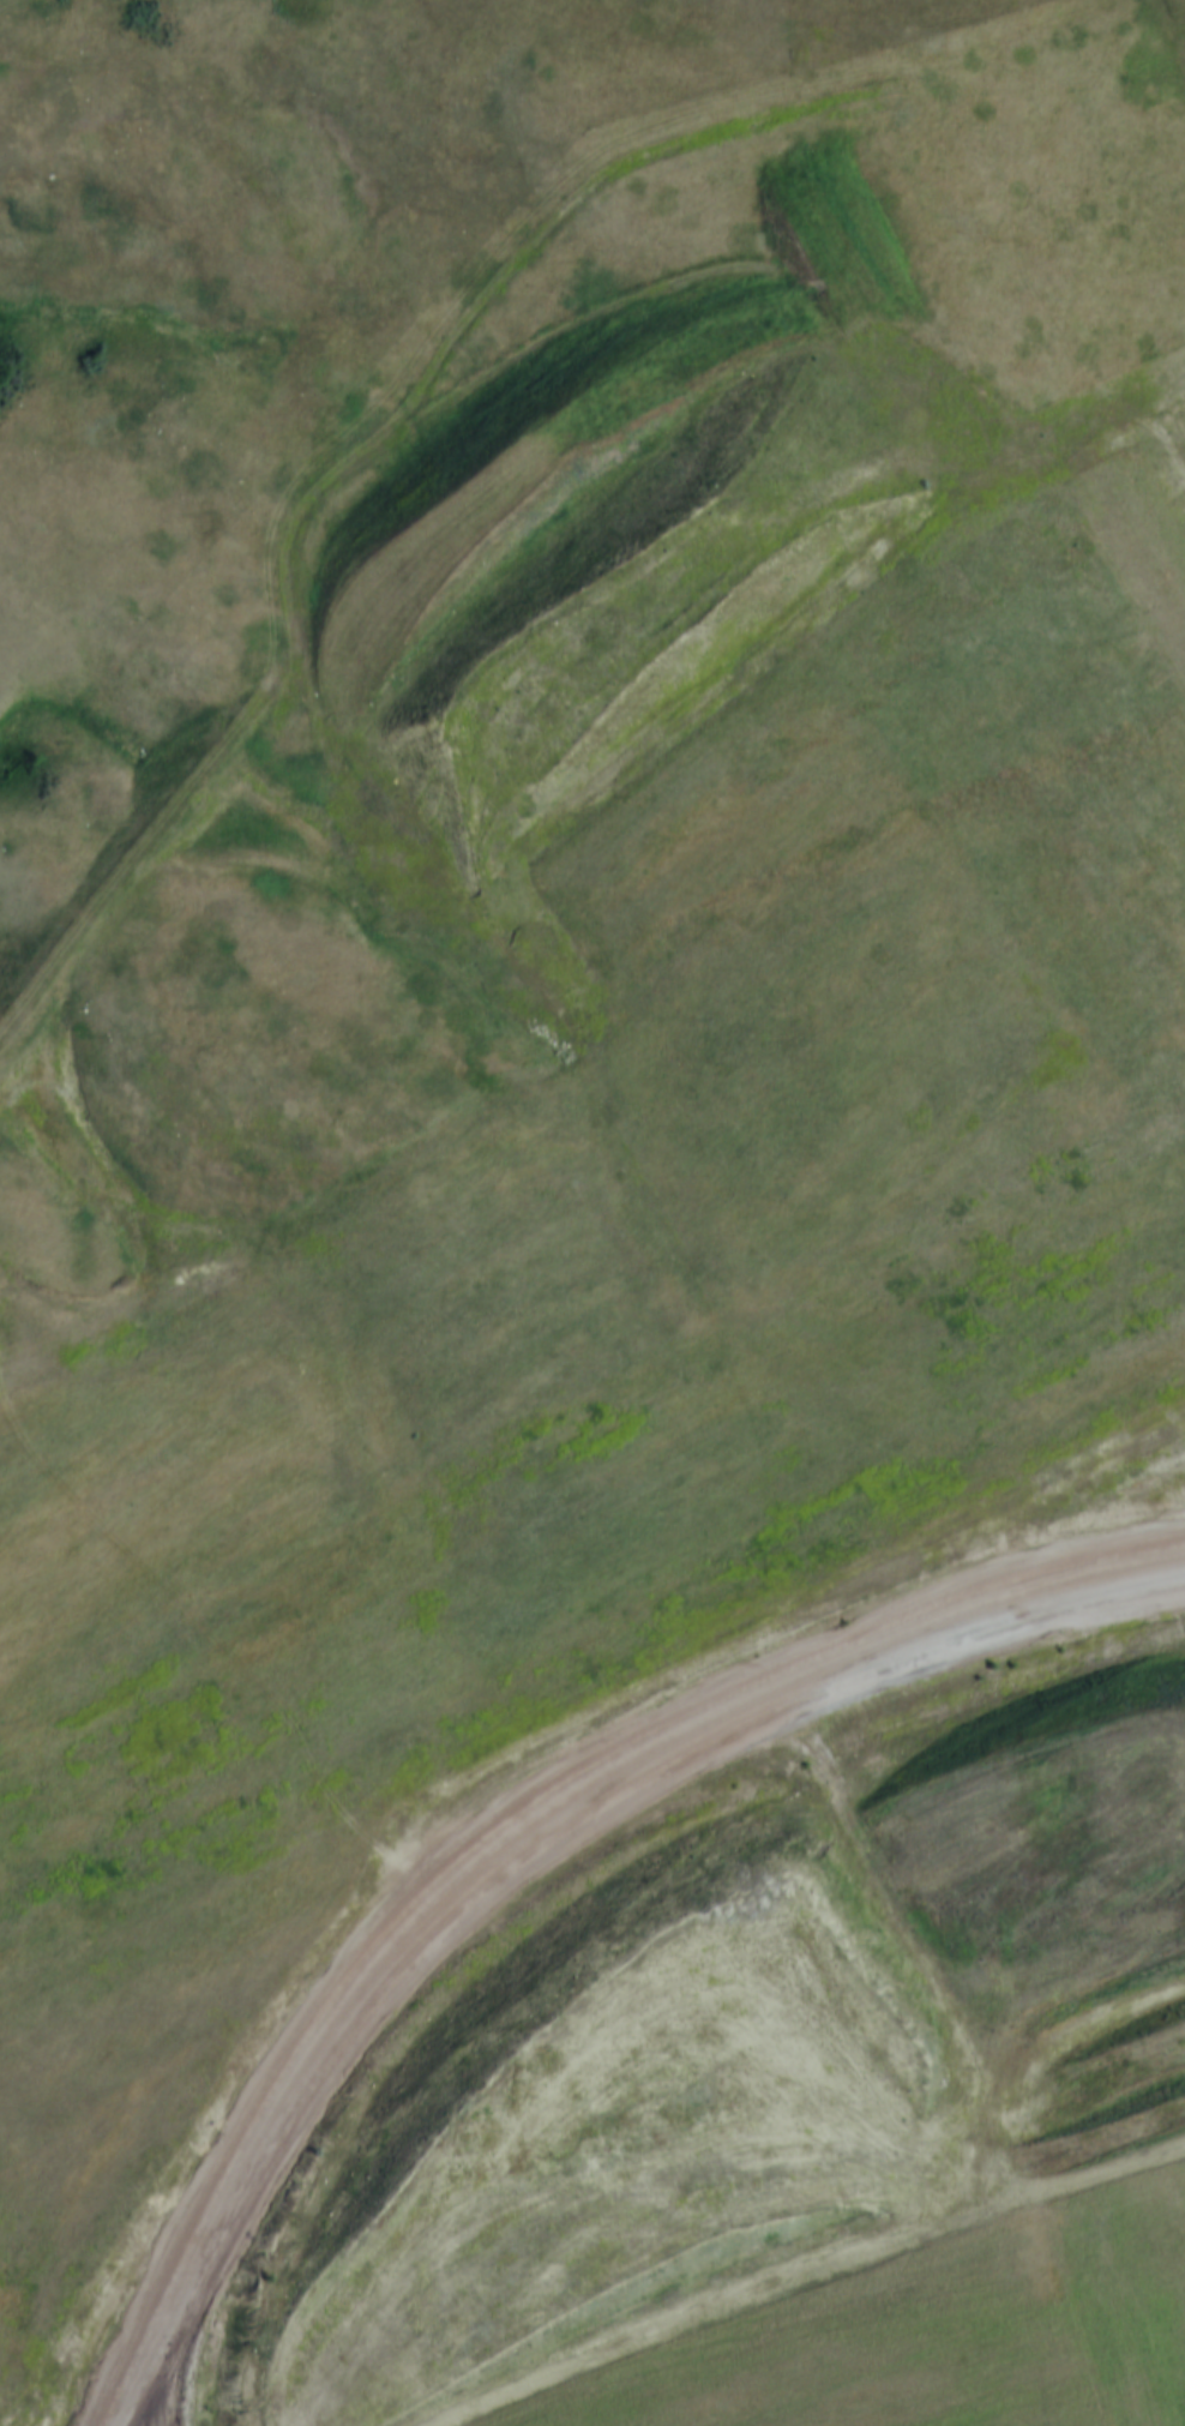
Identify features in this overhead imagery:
road: (775, 2194)

